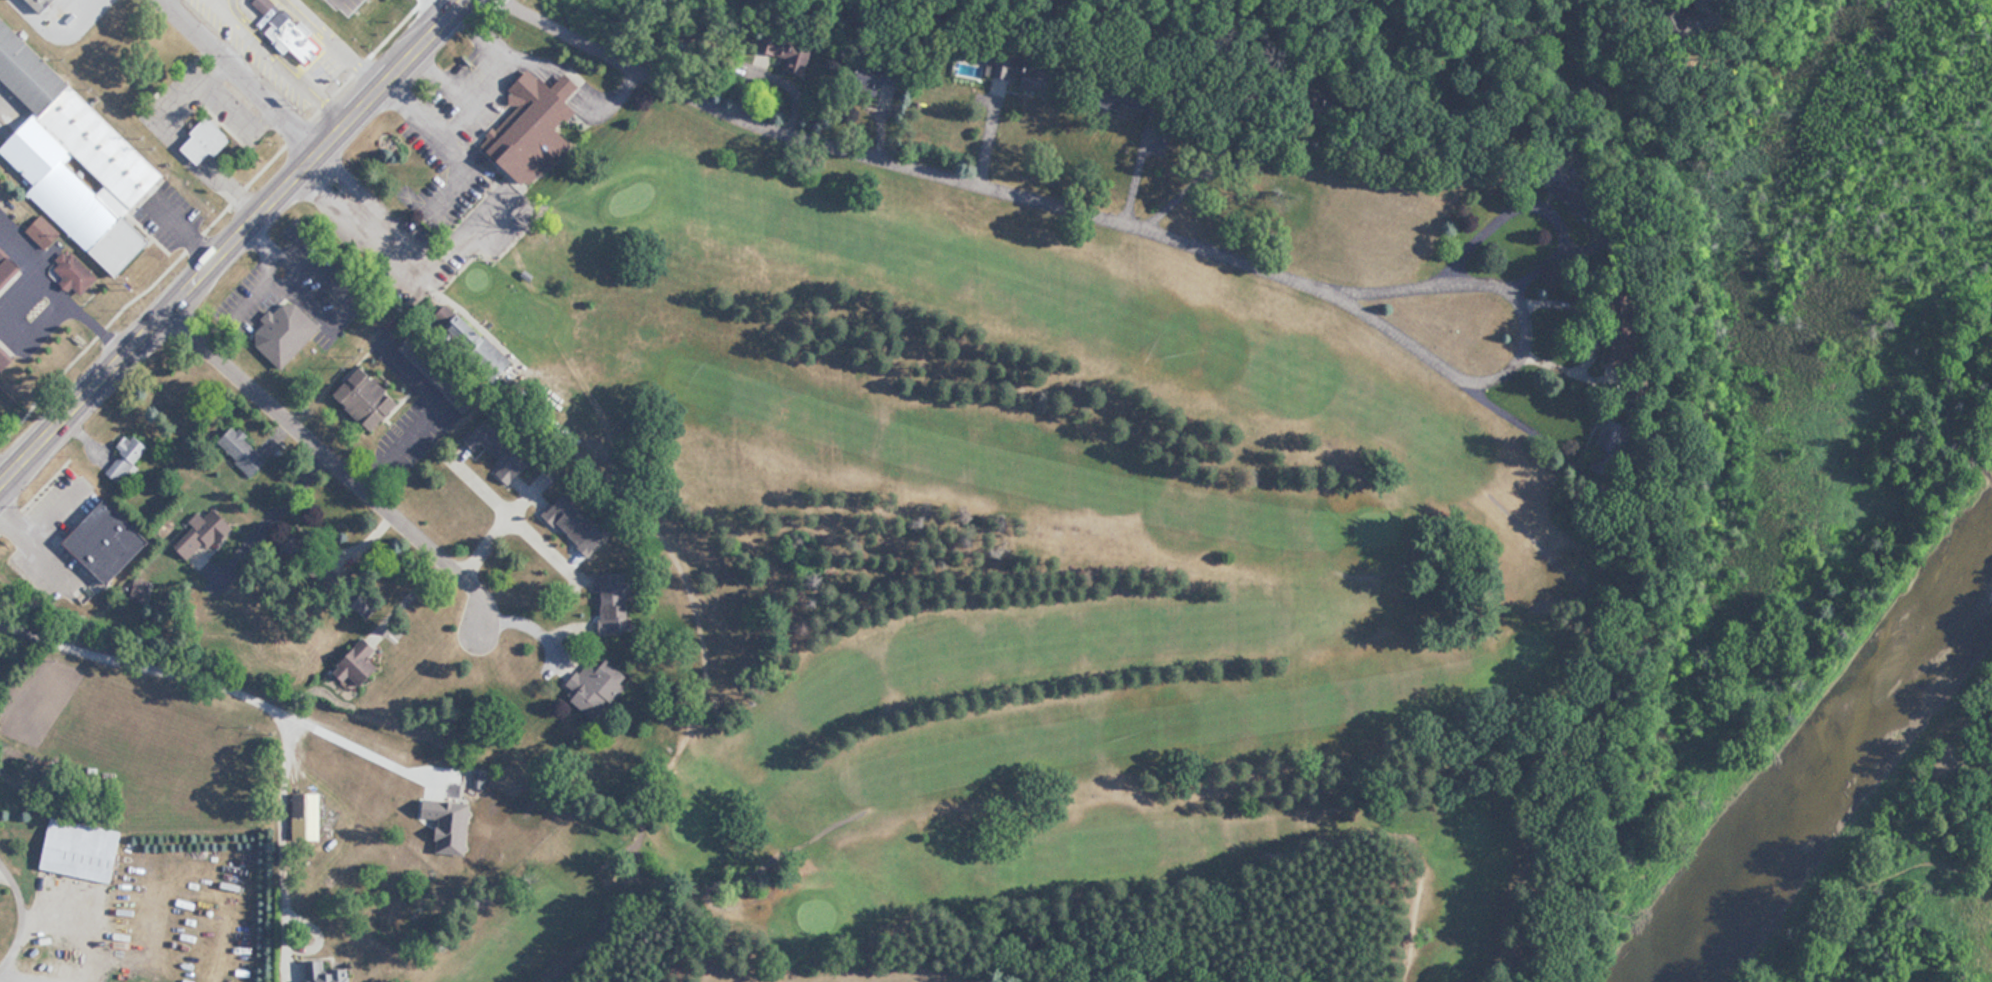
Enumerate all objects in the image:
building: (288, 32)
building: (793, 53)
road: (251, 72)
building: (1020, 73)
building: (883, 75)
building: (1128, 96)
parking lot: (461, 98)
building: (535, 126)
building: (206, 141)
building: (76, 157)
road: (926, 160)
building: (1554, 181)
road: (1535, 204)
building: (44, 232)
road: (229, 235)
building: (8, 268)
building: (75, 273)
road: (1412, 277)
building: (287, 332)
road: (1592, 334)
building: (5, 358)
building: (366, 395)
building: (489, 438)
building: (243, 452)
road: (334, 454)
building: (127, 456)
building: (514, 466)
road: (277, 503)
road: (504, 512)
building: (578, 524)
road: (541, 534)
building: (202, 536)
building: (108, 540)
park: (1010, 583)
building: (614, 602)
road: (531, 615)
road: (153, 661)
building: (360, 665)
building: (600, 686)
road: (369, 731)
river: (1828, 757)
road: (283, 825)
building: (82, 850)
building: (325, 973)

